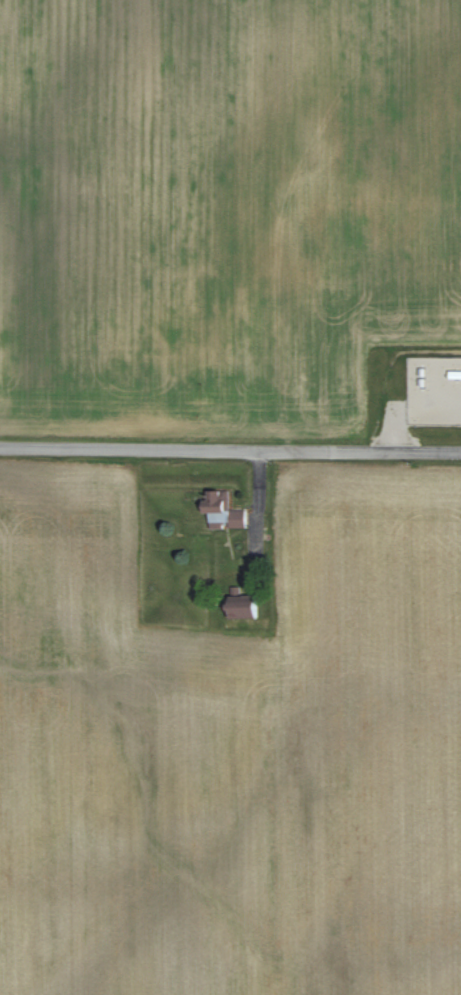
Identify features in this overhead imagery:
road: (230, 449)
building: (224, 511)
building: (243, 609)

